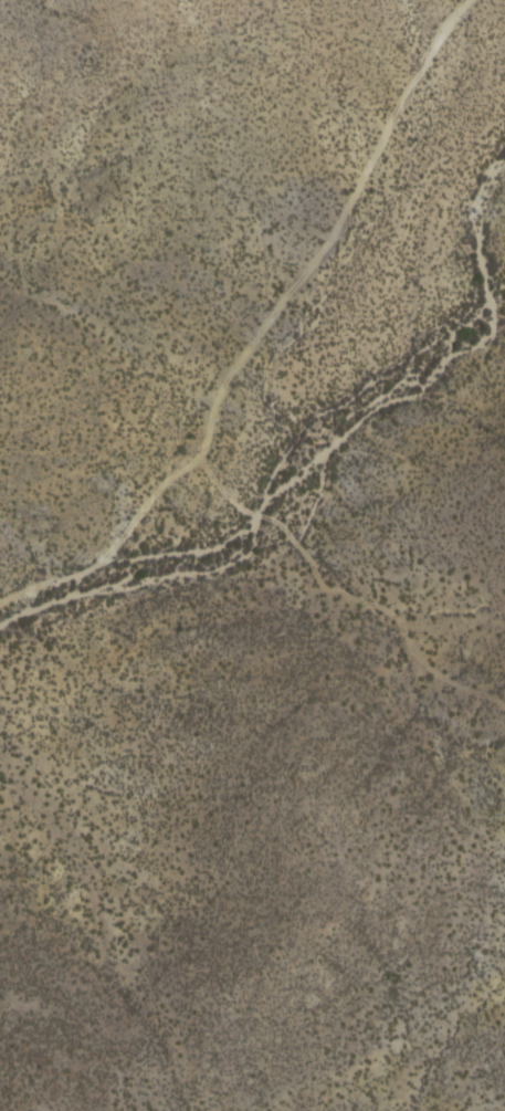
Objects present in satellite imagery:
road: (249, 312)
road: (339, 599)

